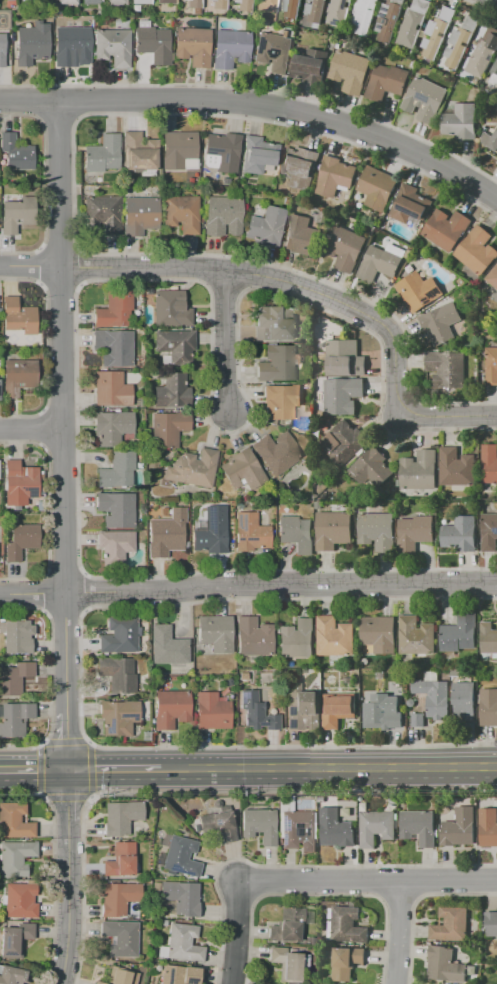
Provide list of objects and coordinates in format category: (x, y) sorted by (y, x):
building: (66, 1)
building: (91, 1)
building: (140, 1)
building: (164, 1)
building: (116, 2)
building: (194, 3)
building: (218, 4)
building: (242, 5)
building: (266, 5)
road: (482, 5)
building: (291, 8)
building: (316, 10)
building: (195, 11)
building: (339, 12)
building: (364, 15)
building: (389, 19)
building: (414, 23)
building: (438, 32)
building: (334, 38)
building: (461, 41)
building: (152, 42)
building: (32, 45)
building: (71, 45)
building: (192, 45)
building: (113, 47)
building: (230, 48)
building: (2, 50)
building: (273, 52)
building: (483, 54)
building: (310, 66)
building: (350, 71)
building: (494, 73)
building: (387, 81)
road: (257, 90)
building: (425, 99)
road: (78, 100)
road: (36, 102)
road: (258, 104)
road: (57, 117)
building: (460, 121)
building: (490, 140)
building: (179, 151)
building: (16, 152)
building: (139, 152)
building: (221, 152)
building: (103, 154)
building: (258, 155)
building: (496, 158)
building: (300, 166)
building: (335, 176)
road: (43, 183)
building: (377, 187)
building: (410, 204)
road: (73, 210)
building: (16, 213)
building: (181, 213)
building: (102, 214)
building: (139, 215)
building: (222, 216)
building: (266, 227)
building: (446, 229)
building: (302, 235)
building: (345, 248)
road: (58, 250)
building: (477, 250)
building: (381, 262)
road: (28, 265)
road: (39, 266)
road: (79, 267)
road: (202, 268)
road: (248, 273)
building: (493, 276)
road: (125, 280)
road: (283, 280)
road: (60, 284)
road: (224, 286)
building: (419, 290)
building: (495, 297)
building: (170, 309)
building: (114, 310)
building: (18, 316)
building: (274, 323)
building: (441, 323)
road: (224, 338)
building: (14, 344)
building: (176, 346)
building: (114, 347)
road: (46, 348)
building: (344, 358)
building: (278, 364)
building: (492, 365)
building: (447, 367)
building: (19, 376)
building: (110, 389)
building: (172, 392)
building: (342, 395)
building: (282, 401)
road: (58, 410)
road: (461, 415)
road: (426, 416)
building: (112, 427)
road: (30, 428)
road: (42, 428)
building: (167, 429)
road: (62, 436)
building: (344, 442)
road: (58, 446)
building: (277, 452)
building: (489, 462)
building: (372, 467)
building: (457, 467)
building: (193, 468)
building: (117, 470)
building: (242, 470)
building: (419, 470)
building: (19, 483)
building: (399, 483)
building: (272, 496)
building: (318, 505)
building: (116, 508)
road: (47, 510)
building: (333, 529)
building: (377, 530)
building: (490, 532)
building: (166, 533)
building: (250, 533)
building: (415, 533)
building: (461, 533)
building: (296, 534)
building: (211, 535)
building: (21, 540)
building: (115, 545)
road: (63, 573)
road: (248, 584)
road: (84, 591)
road: (44, 593)
road: (64, 610)
building: (216, 632)
building: (459, 633)
building: (119, 635)
building: (379, 635)
building: (417, 635)
building: (17, 636)
building: (334, 636)
building: (253, 637)
building: (488, 637)
building: (297, 639)
building: (167, 646)
building: (303, 671)
road: (79, 674)
building: (118, 674)
building: (431, 675)
road: (50, 676)
building: (244, 676)
building: (14, 677)
building: (434, 696)
building: (403, 697)
building: (464, 700)
building: (489, 706)
building: (171, 708)
building: (338, 709)
building: (307, 710)
building: (212, 711)
building: (381, 711)
building: (258, 712)
building: (119, 716)
building: (15, 718)
building: (417, 719)
road: (65, 742)
road: (42, 768)
road: (89, 768)
road: (329, 769)
traffic signals: (67, 772)
road: (114, 772)
road: (33, 773)
road: (197, 790)
road: (66, 795)
building: (121, 817)
building: (14, 821)
building: (259, 824)
building: (219, 825)
building: (376, 826)
building: (419, 826)
building: (460, 827)
building: (488, 827)
building: (336, 828)
building: (299, 830)
building: (181, 856)
building: (15, 858)
building: (120, 860)
road: (295, 865)
road: (52, 867)
road: (67, 878)
road: (365, 878)
road: (377, 880)
road: (419, 880)
road: (318, 894)
building: (180, 896)
road: (398, 896)
building: (118, 898)
building: (2, 900)
building: (21, 900)
road: (415, 900)
building: (451, 923)
building: (491, 923)
building: (346, 924)
building: (287, 925)
road: (397, 930)
road: (234, 932)
building: (120, 937)
building: (15, 939)
building: (183, 943)
building: (346, 961)
building: (286, 964)
building: (445, 964)
building: (179, 974)
building: (13, 976)
building: (119, 976)
building: (99, 983)

